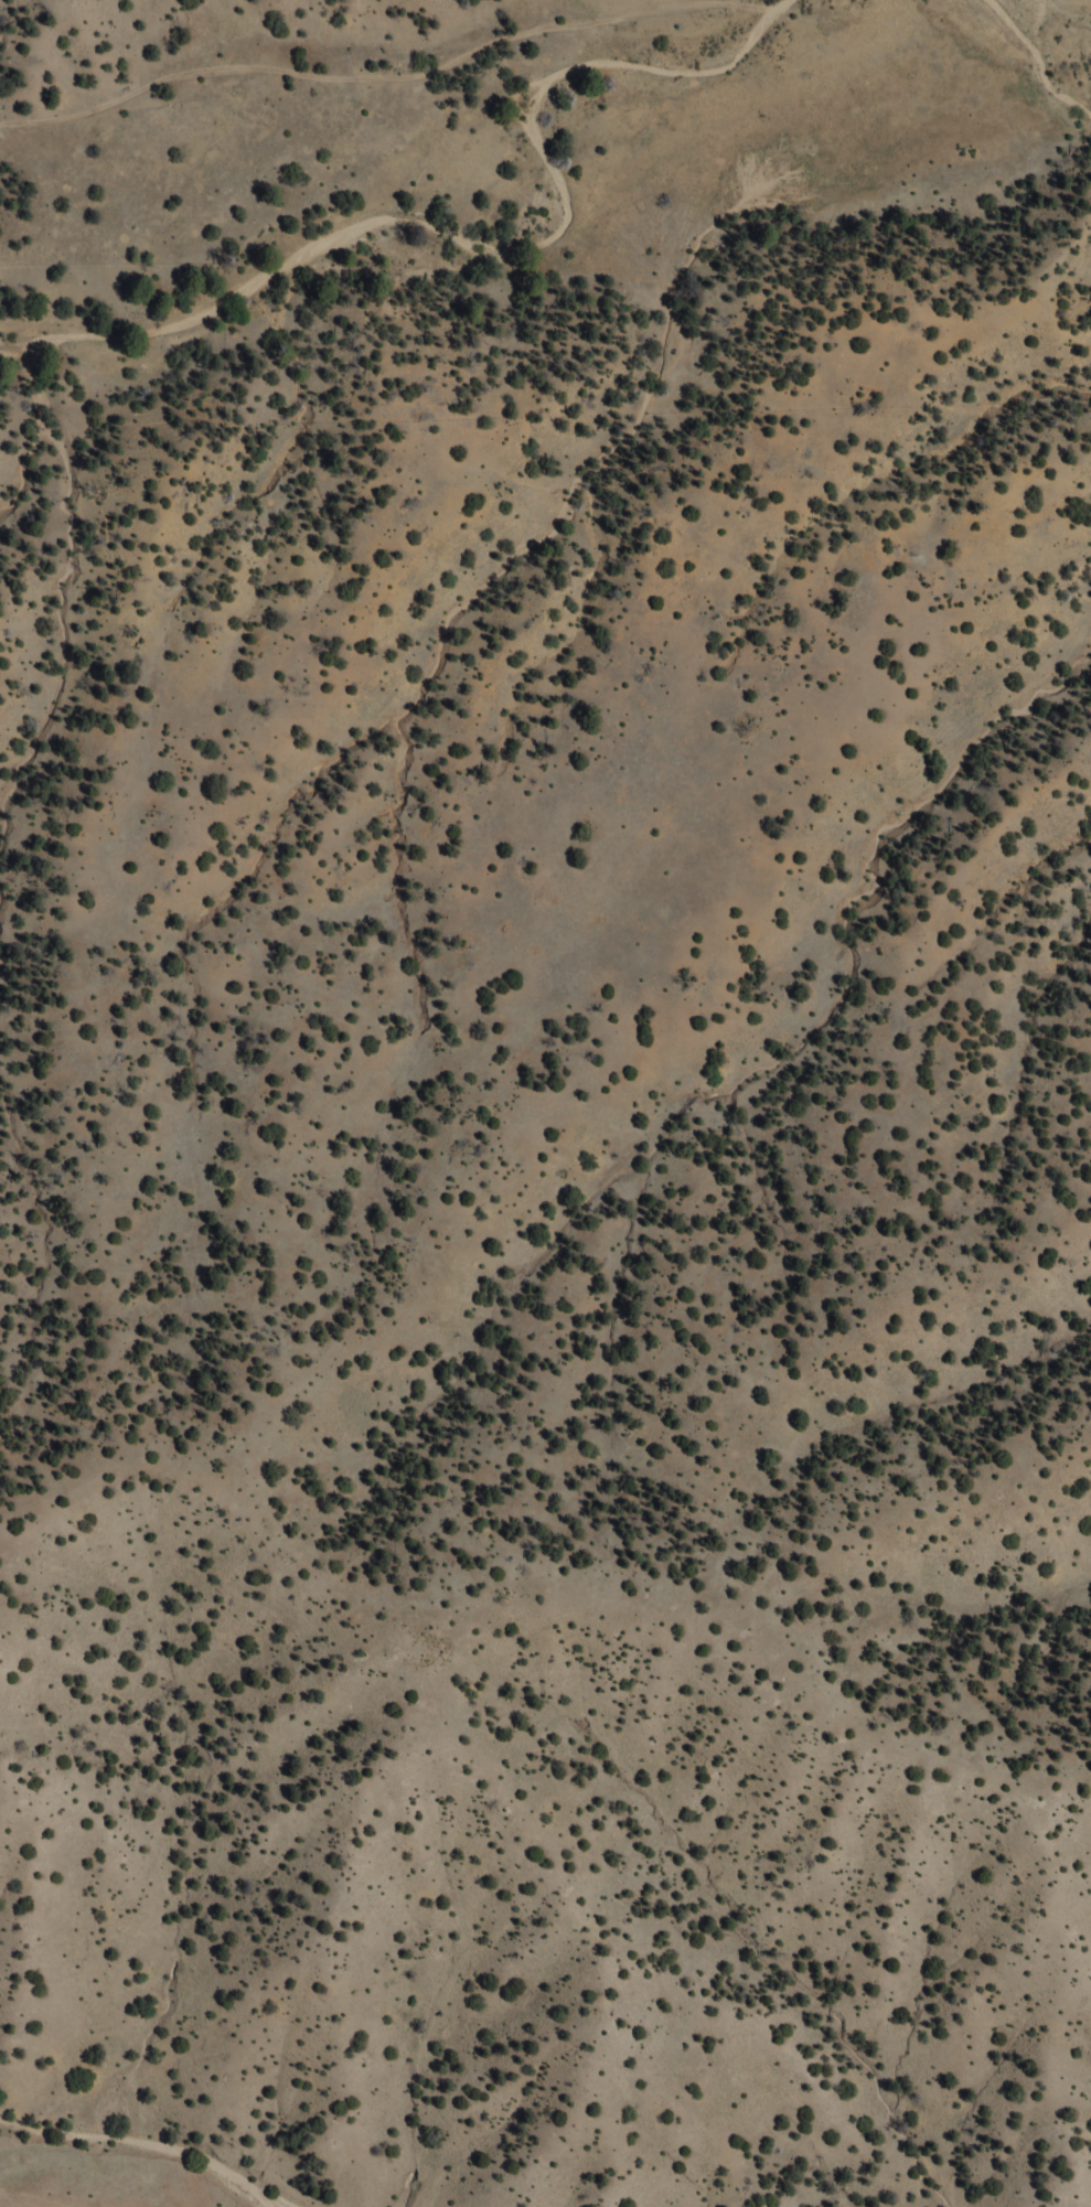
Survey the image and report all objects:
road: (395, 79)
road: (31, 2197)

